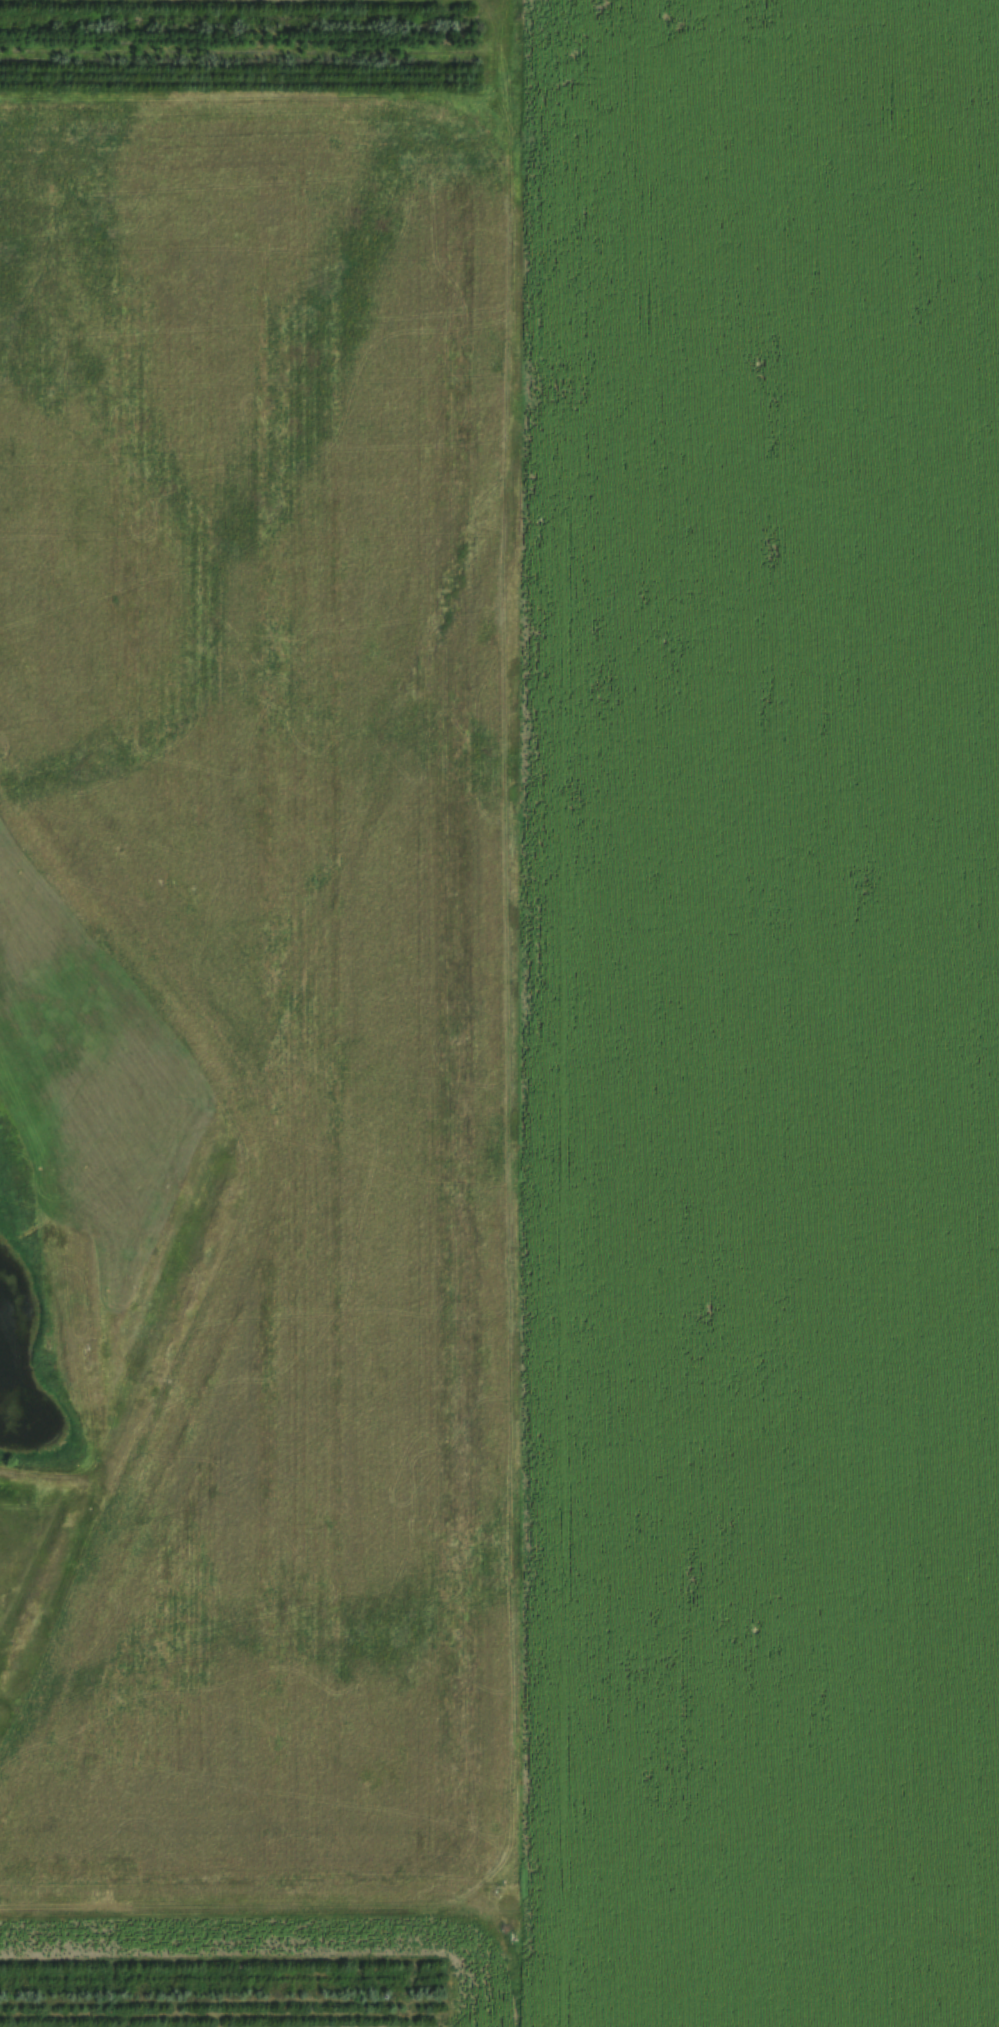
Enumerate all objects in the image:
road: (317, 1883)

